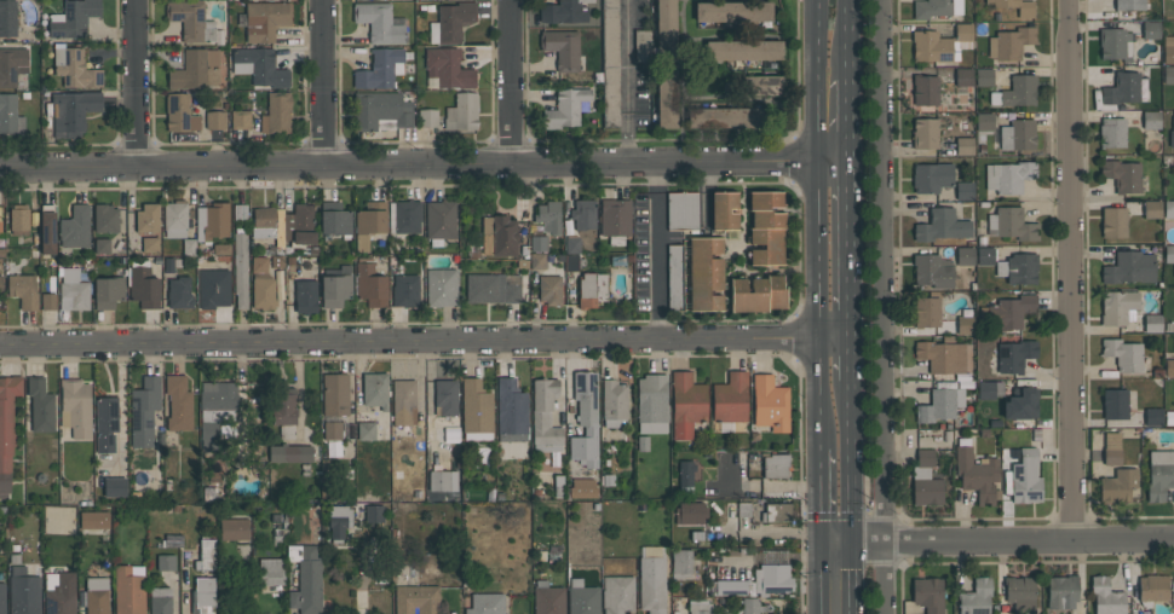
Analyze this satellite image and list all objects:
building: (1129, 5)
building: (1015, 6)
building: (936, 7)
building: (564, 11)
building: (732, 11)
building: (7, 18)
building: (73, 18)
building: (191, 21)
building: (264, 21)
building: (450, 22)
building: (380, 23)
building: (1151, 29)
building: (666, 30)
road: (850, 40)
building: (1009, 42)
building: (942, 44)
building: (1115, 44)
building: (641, 46)
building: (563, 48)
building: (743, 50)
building: (1168, 50)
building: (610, 63)
building: (12, 65)
building: (74, 66)
building: (259, 66)
building: (447, 68)
building: (195, 69)
building: (380, 69)
building: (1168, 74)
building: (963, 76)
building: (984, 76)
road: (510, 80)
road: (627, 80)
road: (321, 81)
road: (131, 82)
building: (762, 85)
building: (1122, 88)
building: (925, 89)
building: (1019, 89)
building: (666, 98)
building: (566, 108)
building: (73, 109)
building: (381, 111)
building: (179, 112)
building: (462, 112)
building: (10, 114)
building: (276, 114)
building: (426, 117)
building: (724, 117)
building: (215, 120)
building: (241, 120)
road: (850, 120)
building: (1151, 120)
building: (984, 121)
building: (1172, 132)
building: (925, 133)
building: (1112, 133)
building: (1018, 134)
building: (963, 146)
road: (424, 161)
building: (1122, 175)
building: (931, 176)
building: (1008, 176)
building: (965, 190)
building: (1152, 209)
building: (1168, 209)
building: (681, 210)
building: (724, 210)
building: (583, 214)
building: (404, 216)
building: (548, 216)
building: (148, 218)
building: (175, 218)
building: (18, 219)
building: (105, 219)
building: (334, 219)
building: (615, 220)
building: (212, 221)
building: (439, 221)
building: (369, 222)
building: (1113, 222)
road: (821, 224)
building: (1011, 224)
building: (0, 226)
building: (269, 226)
building: (299, 226)
building: (942, 226)
building: (75, 227)
building: (47, 228)
building: (765, 228)
building: (499, 234)
building: (537, 243)
building: (150, 244)
building: (102, 245)
building: (572, 245)
road: (851, 247)
road: (657, 248)
building: (221, 249)
building: (985, 255)
building: (965, 256)
building: (537, 261)
building: (571, 262)
building: (259, 265)
building: (1129, 267)
building: (1018, 268)
building: (240, 270)
building: (933, 271)
road: (1066, 271)
building: (704, 274)
building: (674, 277)
building: (1, 284)
building: (335, 285)
building: (370, 285)
building: (441, 286)
building: (143, 288)
building: (213, 288)
building: (493, 288)
building: (23, 289)
building: (591, 289)
building: (73, 290)
building: (405, 290)
building: (549, 290)
building: (108, 291)
building: (263, 291)
building: (179, 292)
building: (756, 294)
building: (305, 296)
building: (48, 301)
road: (879, 307)
building: (1118, 307)
building: (926, 312)
building: (1007, 312)
building: (1152, 323)
building: (965, 324)
road: (426, 338)
building: (1123, 354)
building: (1014, 355)
road: (852, 357)
building: (942, 357)
building: (989, 388)
building: (375, 389)
building: (334, 394)
building: (445, 396)
building: (730, 400)
building: (403, 401)
building: (178, 402)
building: (614, 402)
building: (282, 404)
building: (651, 404)
building: (686, 404)
building: (770, 404)
building: (940, 404)
building: (1022, 404)
building: (1115, 404)
building: (40, 405)
building: (75, 406)
building: (215, 410)
building: (476, 410)
building: (144, 411)
building: (511, 411)
building: (1153, 416)
building: (545, 417)
building: (585, 419)
building: (105, 422)
building: (6, 428)
building: (332, 430)
building: (366, 430)
building: (1111, 448)
building: (289, 453)
building: (925, 458)
building: (775, 467)
building: (977, 473)
building: (1159, 475)
building: (685, 476)
building: (1025, 476)
building: (442, 480)
building: (1117, 485)
building: (925, 486)
building: (115, 487)
building: (582, 488)
road: (822, 497)
road: (852, 497)
building: (776, 511)
building: (690, 512)
building: (374, 515)
road: (974, 517)
building: (93, 520)
building: (338, 521)
building: (234, 529)
road: (772, 532)
road: (997, 541)
traffic signals: (852, 544)
traffic signals: (823, 545)
building: (206, 555)
building: (166, 562)
road: (1013, 562)
building: (680, 563)
building: (271, 570)
building: (305, 579)
building: (651, 579)
building: (772, 579)
road: (822, 579)
building: (731, 587)
building: (1152, 589)
building: (130, 590)
building: (23, 592)
building: (59, 592)
building: (1063, 592)
building: (617, 593)
building: (1020, 593)
building: (927, 595)
building: (97, 596)
building: (202, 596)
building: (1106, 596)
building: (976, 597)
building: (2, 598)
building: (547, 598)
building: (582, 598)
building: (416, 599)
building: (161, 601)
building: (485, 603)
building: (750, 606)
building: (698, 607)

